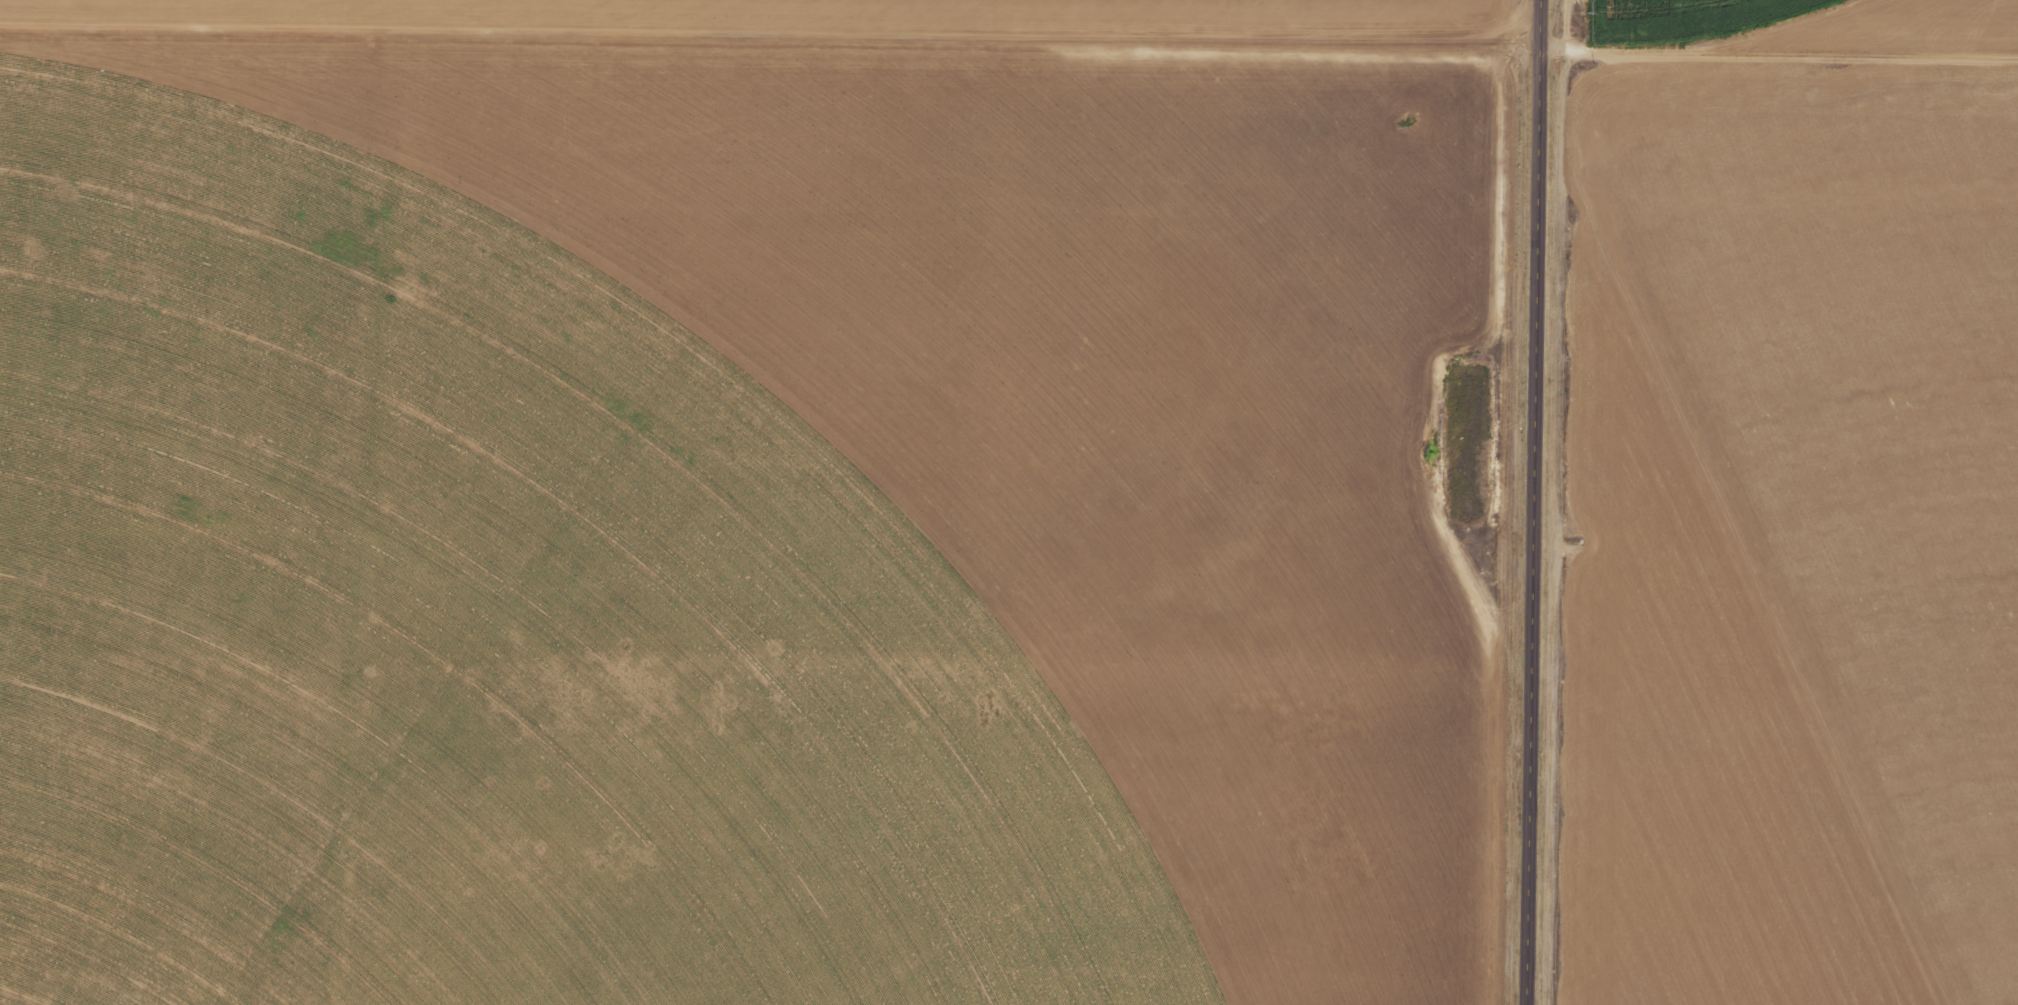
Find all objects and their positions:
road: (1008, 66)
road: (1537, 502)
road: (356, 537)

